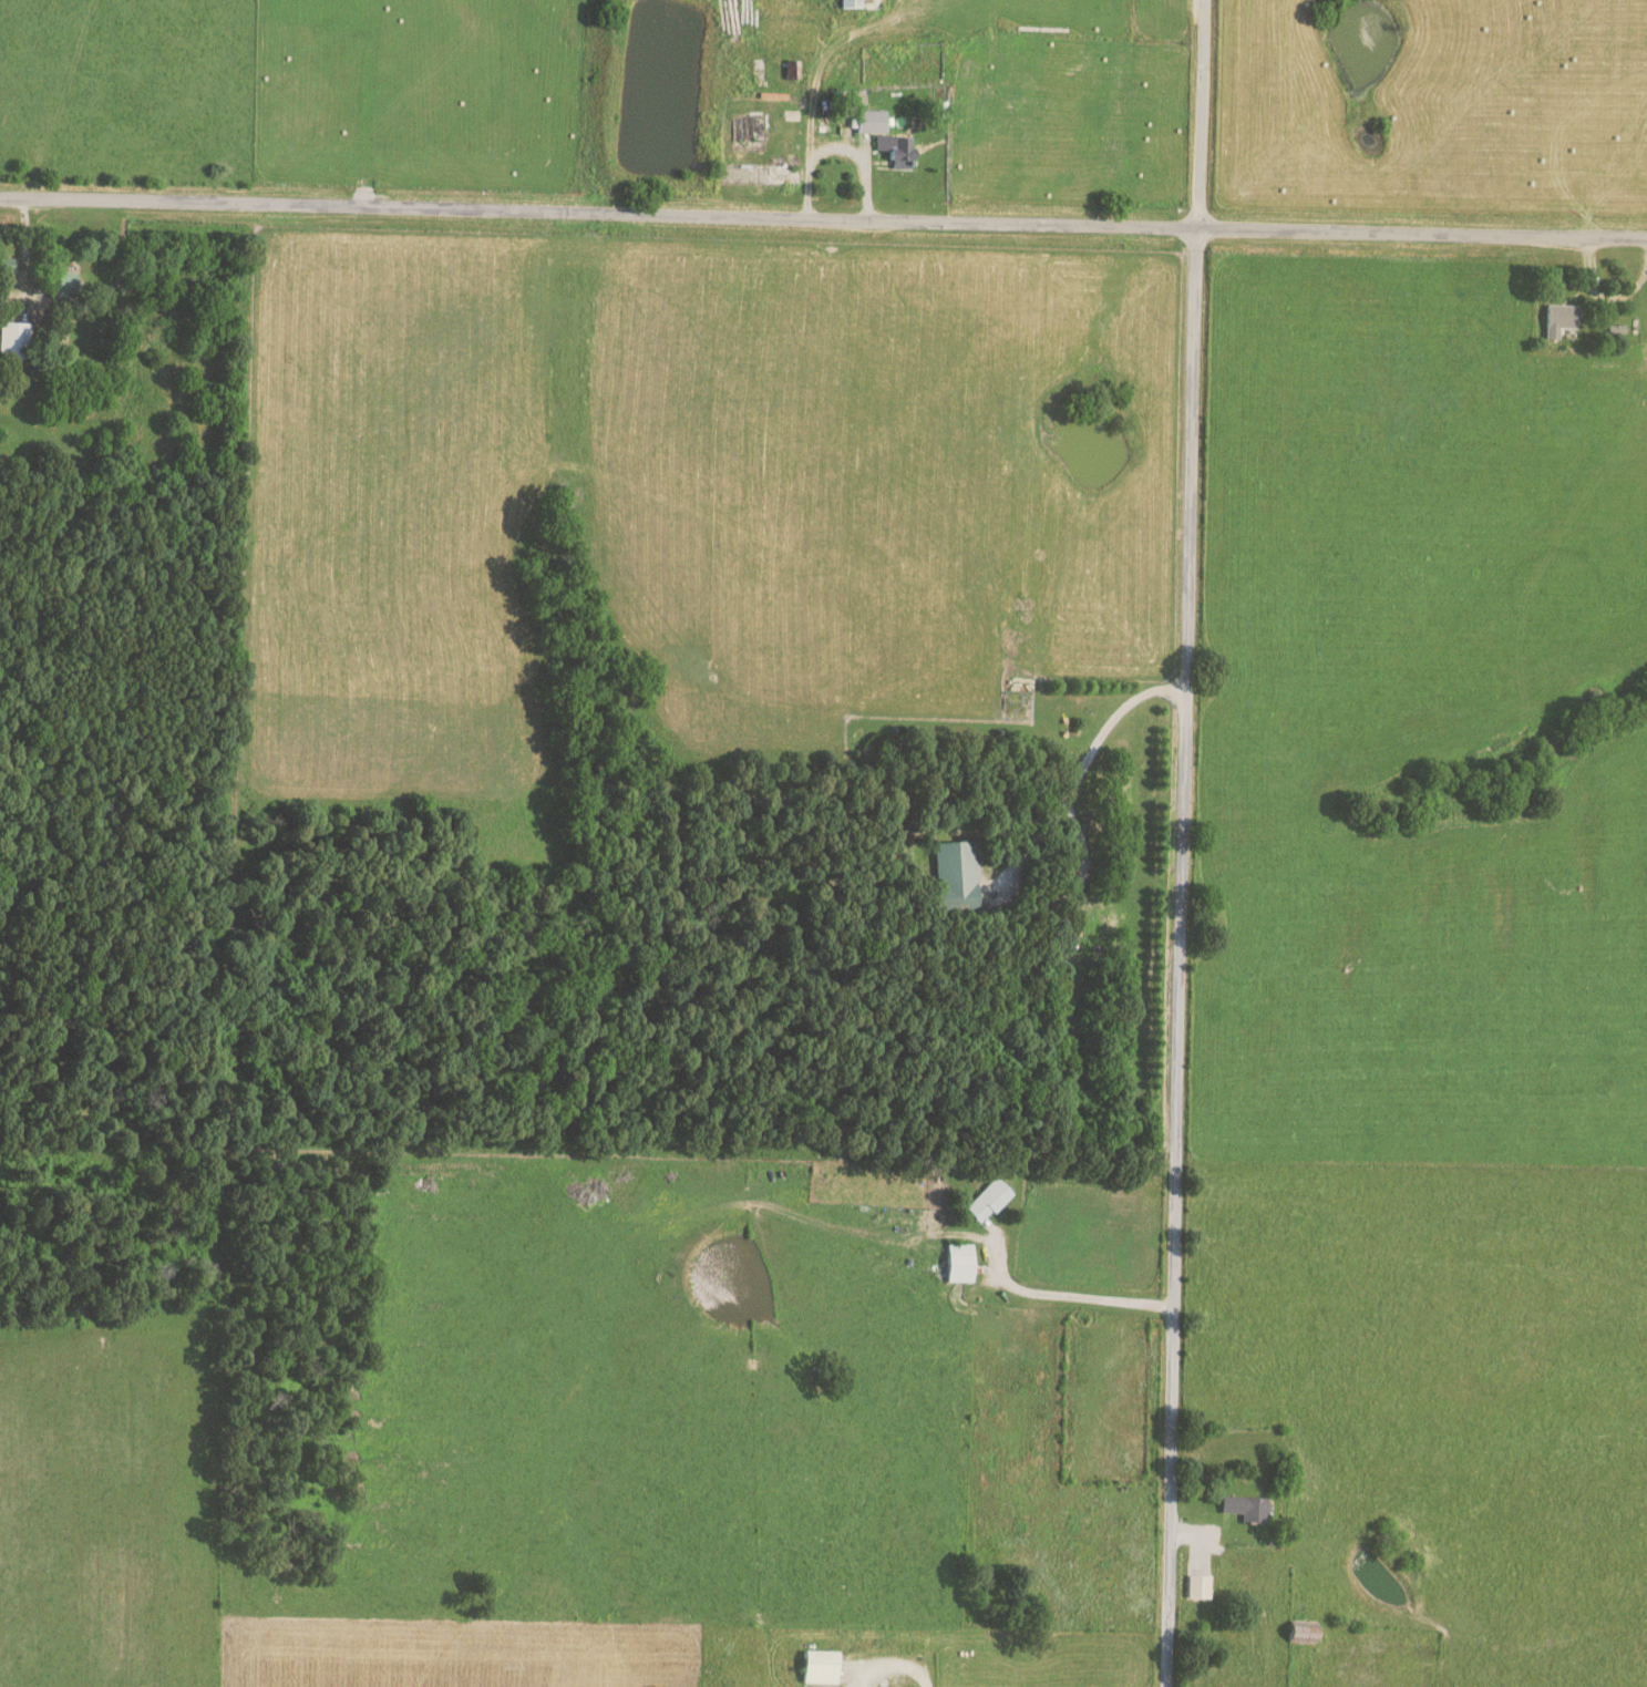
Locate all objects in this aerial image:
building: (853, 3)
building: (873, 122)
road: (837, 148)
building: (899, 151)
road: (823, 220)
building: (69, 285)
building: (1563, 317)
building: (14, 340)
road: (1082, 760)
road: (1181, 843)
building: (956, 876)
building: (989, 1199)
building: (960, 1262)
road: (1058, 1299)
building: (1246, 1508)
building: (1198, 1586)
building: (822, 1666)

